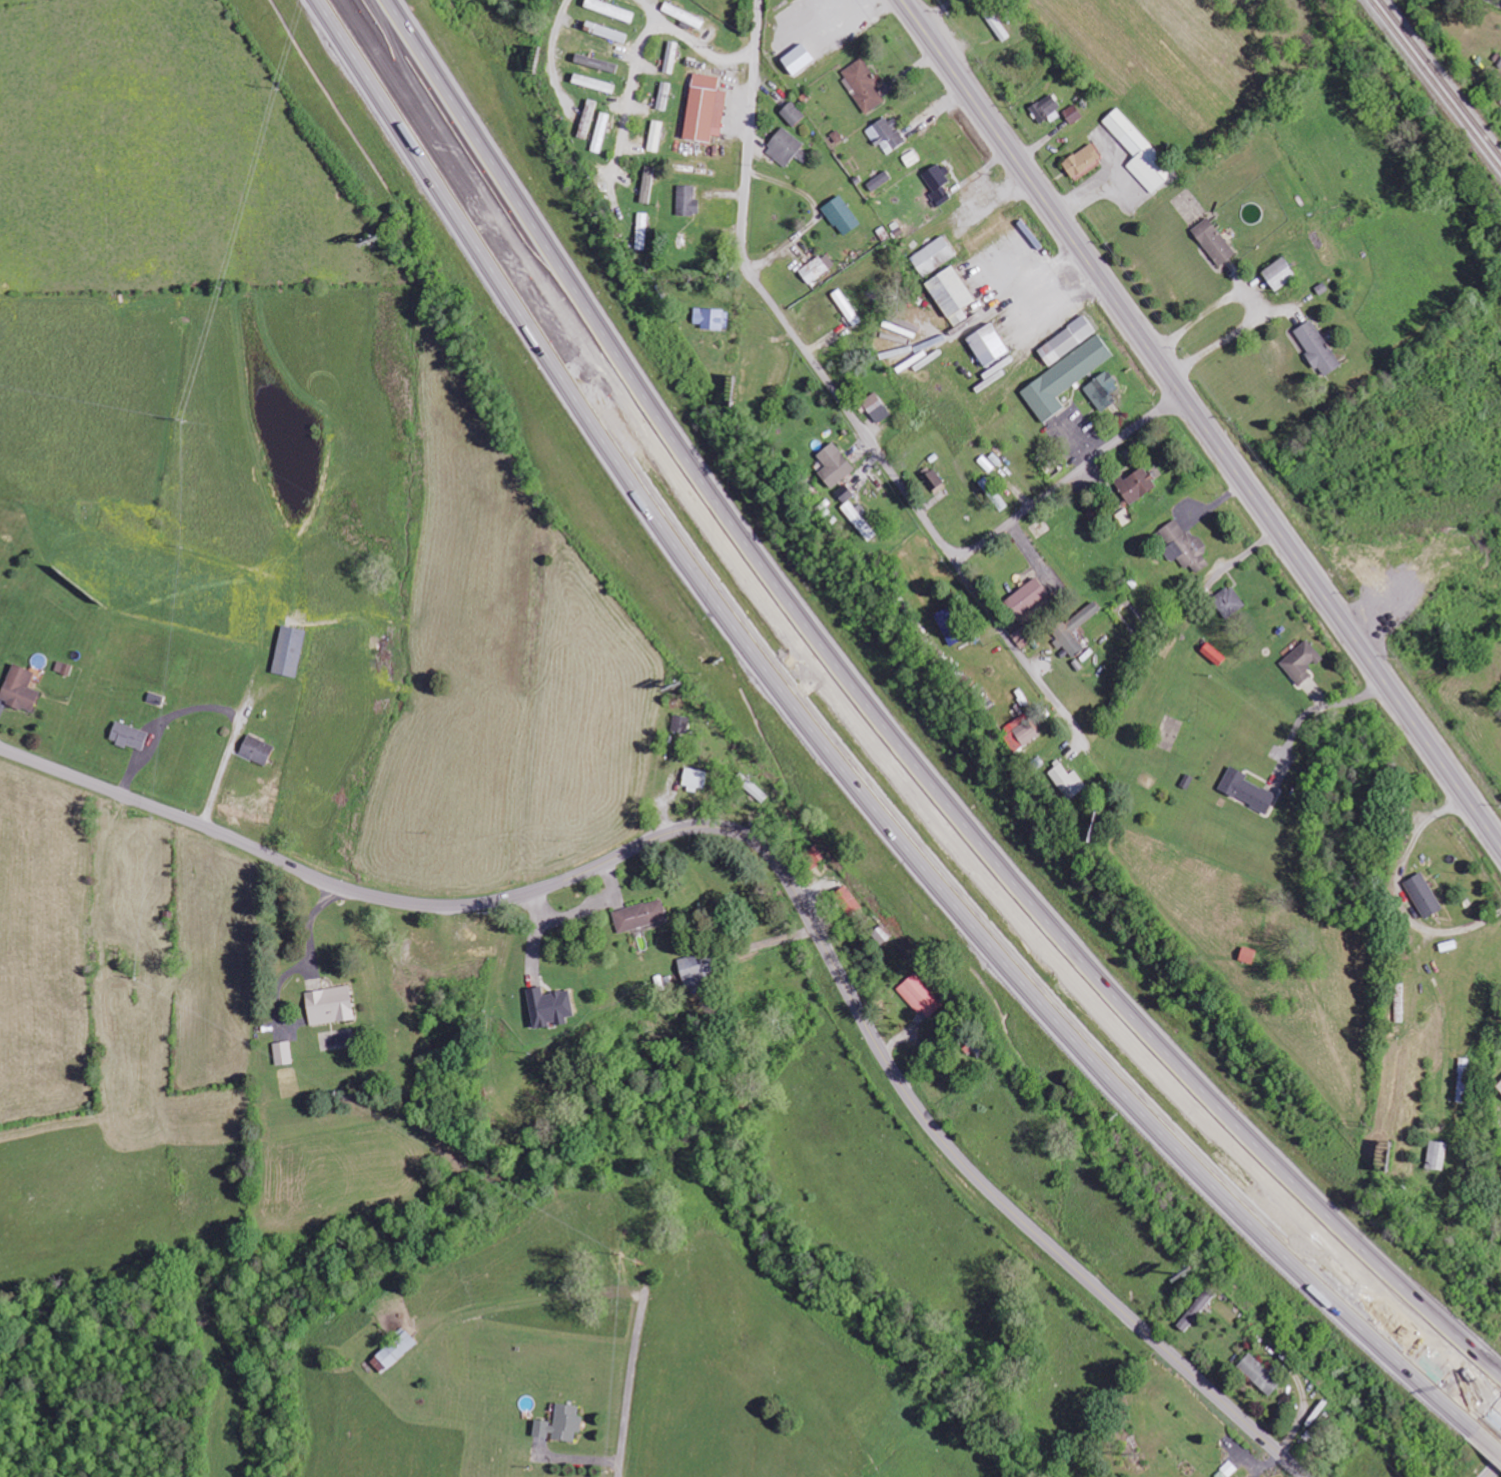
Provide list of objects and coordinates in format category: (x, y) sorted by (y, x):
road: (1500, 0)
building: (611, 9)
building: (683, 15)
building: (996, 24)
building: (606, 31)
building: (671, 57)
building: (798, 58)
building: (596, 63)
railway: (1443, 75)
railway: (1437, 82)
building: (594, 83)
building: (863, 85)
building: (664, 96)
building: (1045, 107)
building: (705, 108)
building: (793, 113)
building: (1072, 114)
building: (588, 119)
building: (601, 132)
building: (887, 134)
building: (656, 135)
building: (784, 147)
building: (1140, 152)
building: (1083, 161)
building: (879, 180)
building: (648, 184)
building: (937, 184)
building: (687, 201)
building: (841, 215)
building: (642, 231)
building: (1213, 241)
building: (933, 256)
building: (817, 268)
building: (1280, 273)
building: (951, 294)
building: (846, 307)
building: (712, 318)
building: (1067, 340)
building: (986, 343)
building: (1317, 348)
building: (1065, 378)
building: (1103, 391)
building: (876, 407)
road: (852, 418)
road: (1202, 422)
building: (834, 465)
building: (933, 480)
building: (1137, 485)
building: (844, 493)
building: (859, 519)
building: (1184, 546)
building: (1028, 598)
building: (1230, 602)
building: (1135, 621)
building: (950, 626)
road: (1002, 629)
building: (1074, 630)
building: (1023, 637)
building: (289, 651)
building: (1215, 654)
building: (1301, 662)
building: (63, 668)
building: (19, 689)
building: (681, 724)
building: (1022, 731)
building: (128, 736)
road: (884, 737)
building: (257, 750)
road: (842, 756)
building: (695, 779)
building: (1068, 781)
building: (1247, 790)
road: (296, 867)
building: (1423, 896)
building: (848, 901)
building: (640, 916)
building: (881, 936)
building: (698, 967)
building: (919, 994)
building: (1400, 996)
building: (330, 1006)
building: (550, 1007)
building: (283, 1053)
building: (1499, 1087)
road: (935, 1132)
building: (1437, 1156)
building: (1195, 1311)
building: (394, 1352)
building: (1259, 1375)
building: (560, 1425)
road: (1487, 1430)
road: (1495, 1470)

